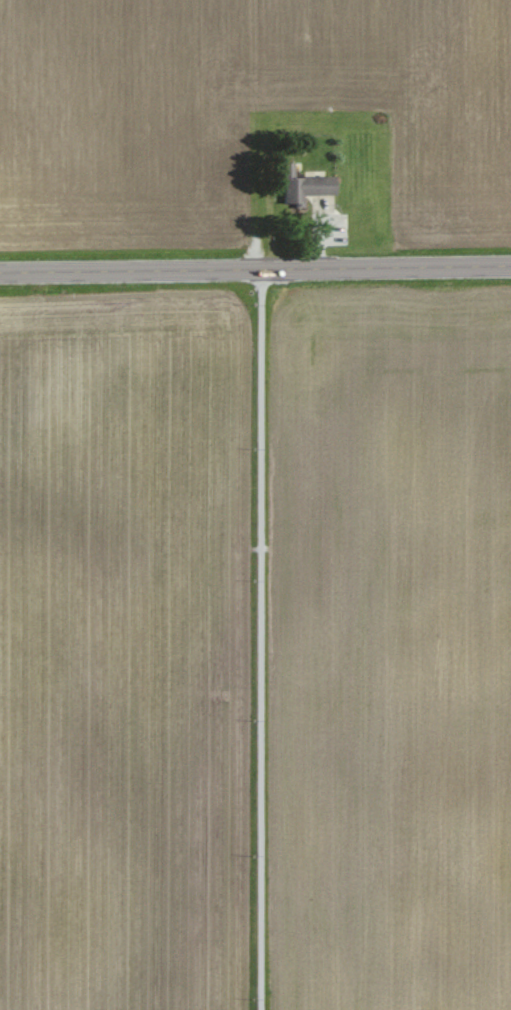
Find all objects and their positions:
building: (308, 185)
road: (255, 270)
road: (260, 640)

